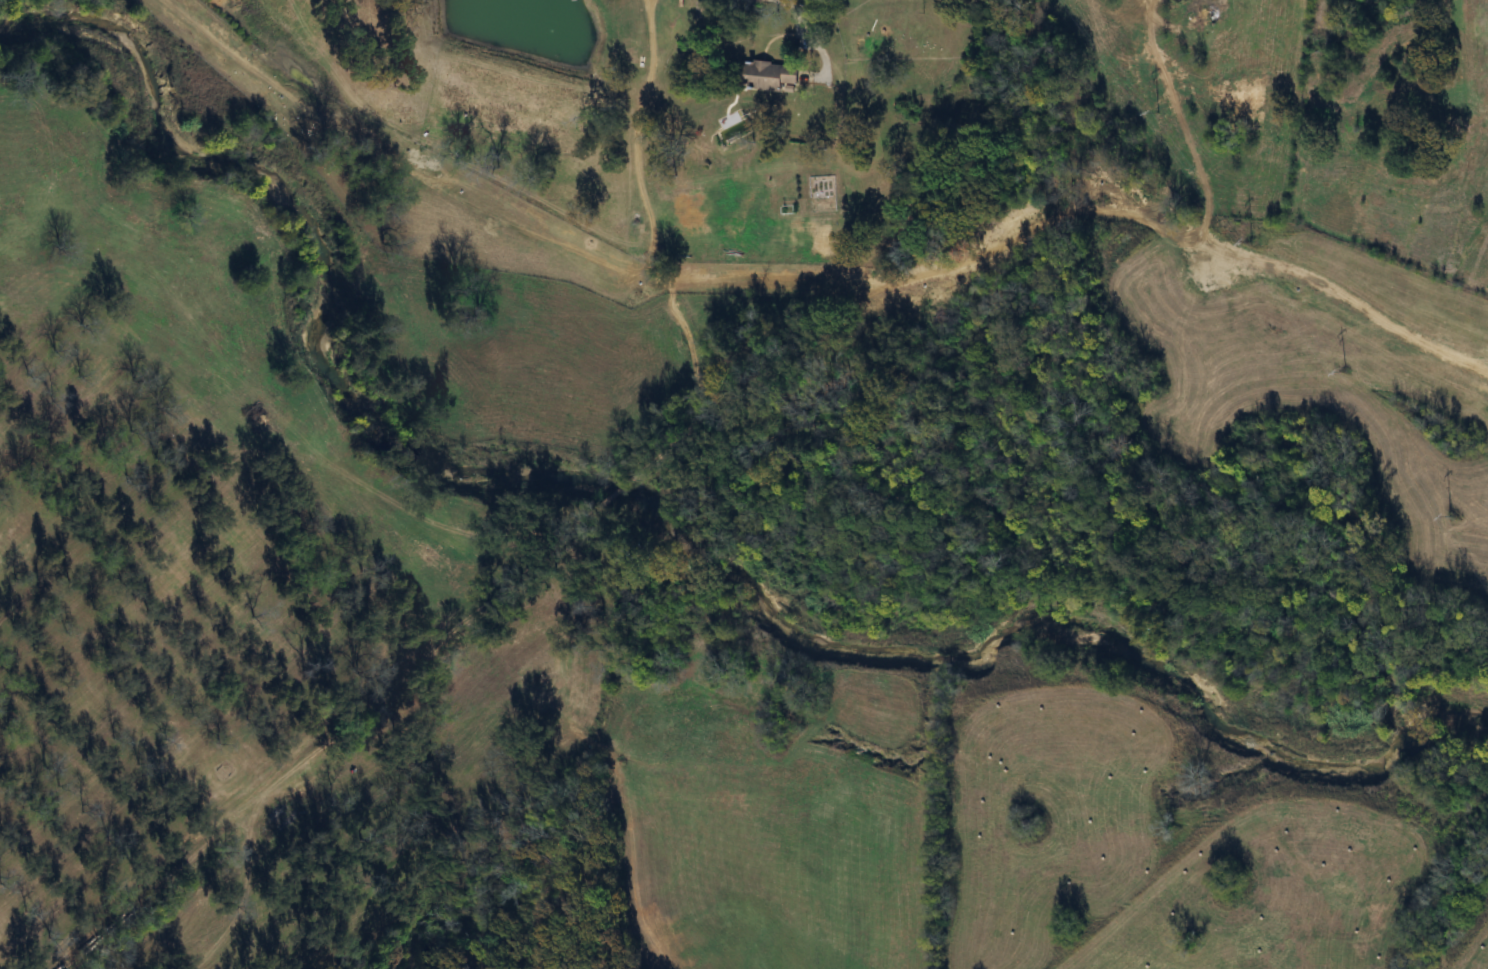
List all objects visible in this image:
building: (705, 10)
road: (813, 39)
building: (770, 75)

